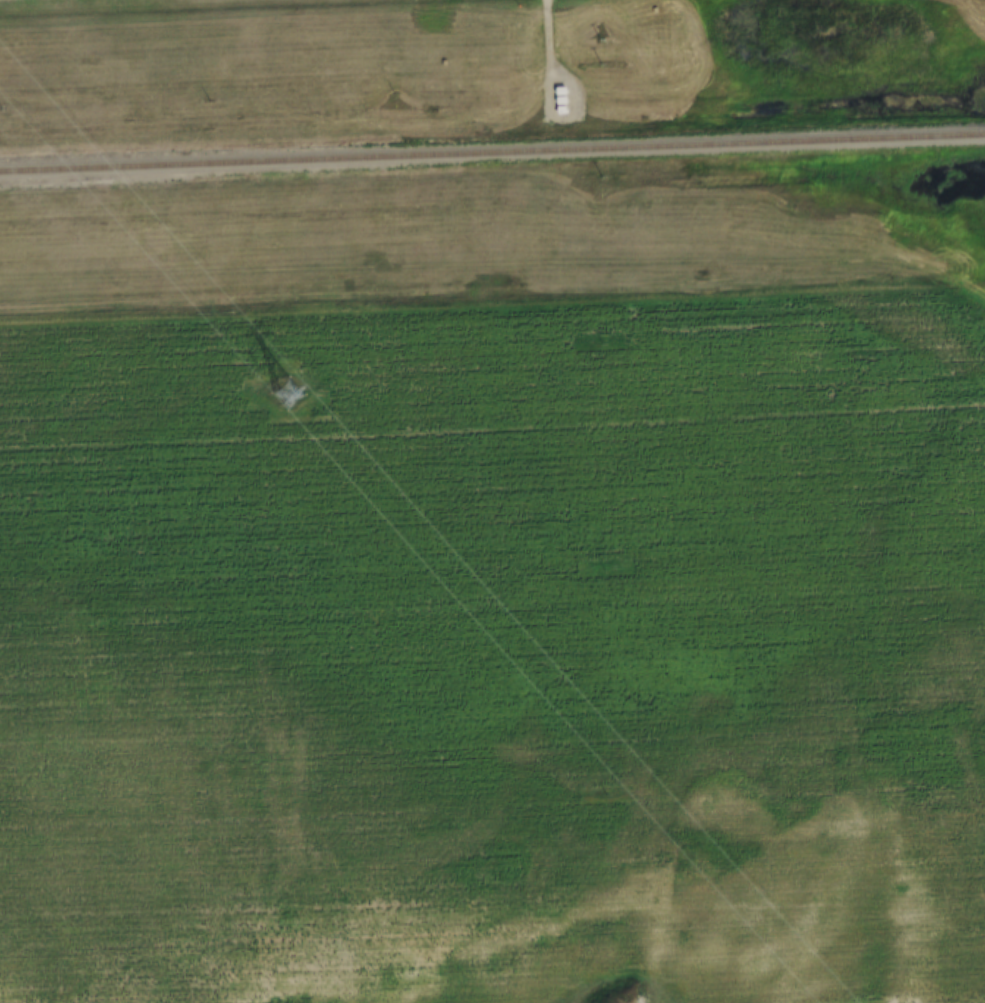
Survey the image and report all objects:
road: (555, 45)
railway: (492, 144)
power tower: (288, 393)

